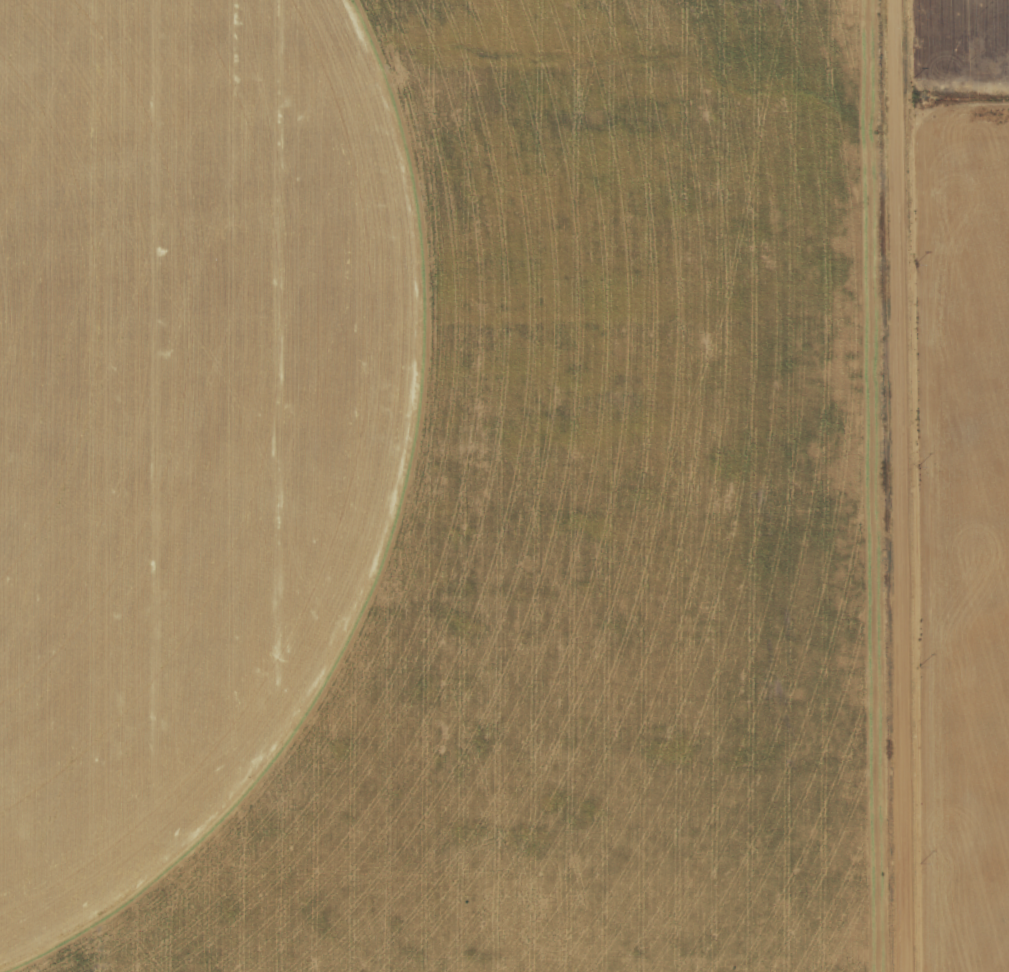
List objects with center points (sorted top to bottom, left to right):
road: (900, 485)

